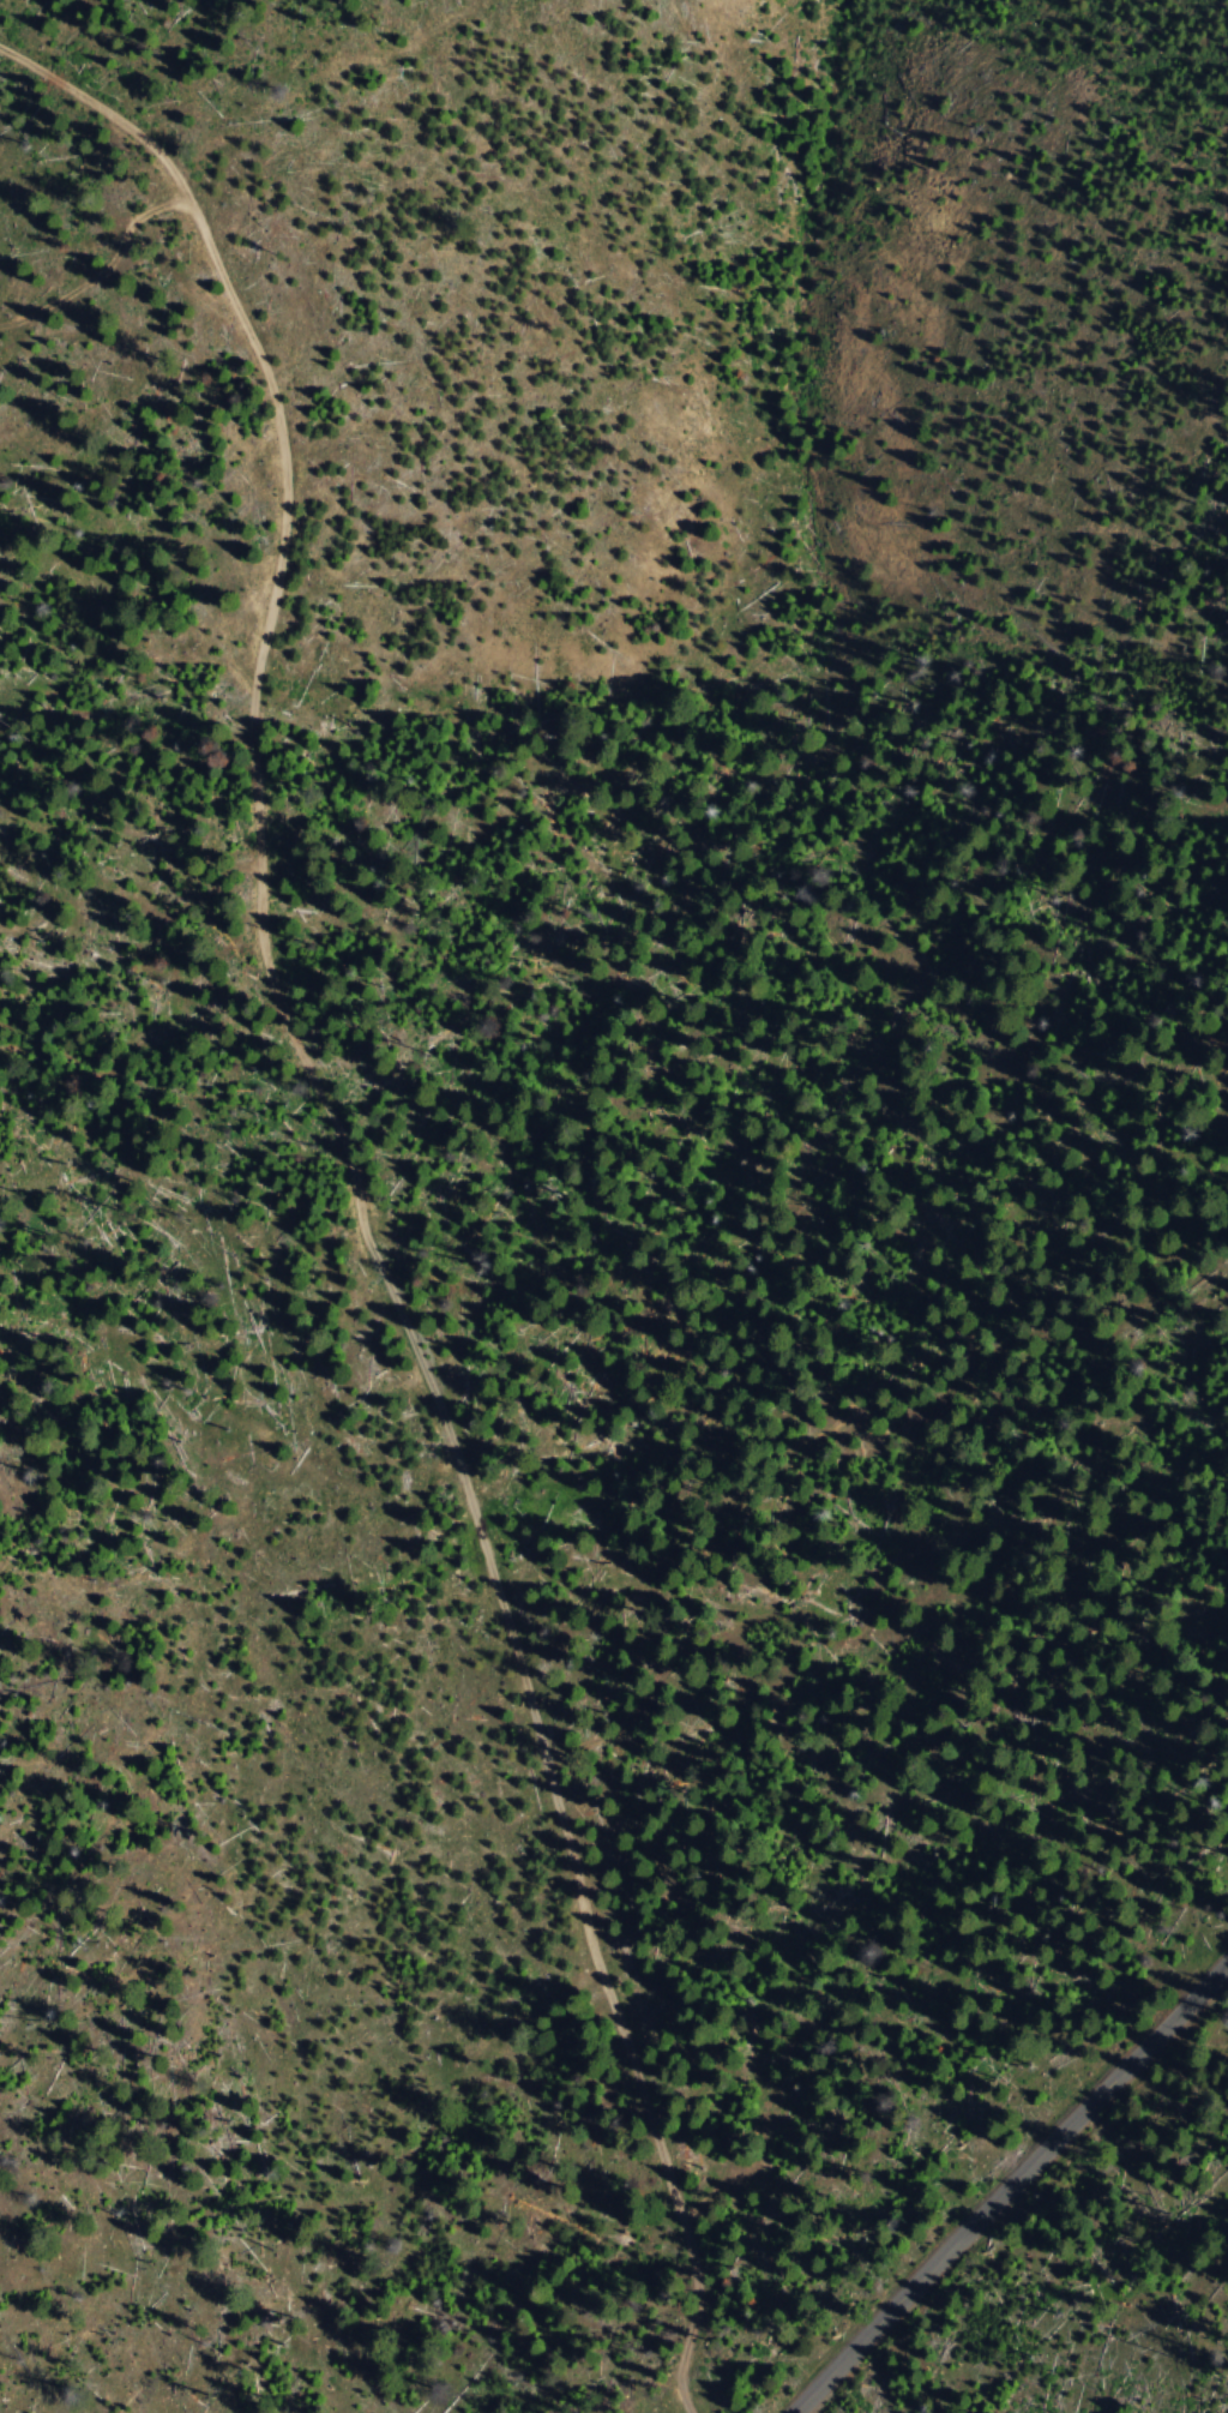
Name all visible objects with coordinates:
road: (359, 1189)
road: (1019, 2192)

